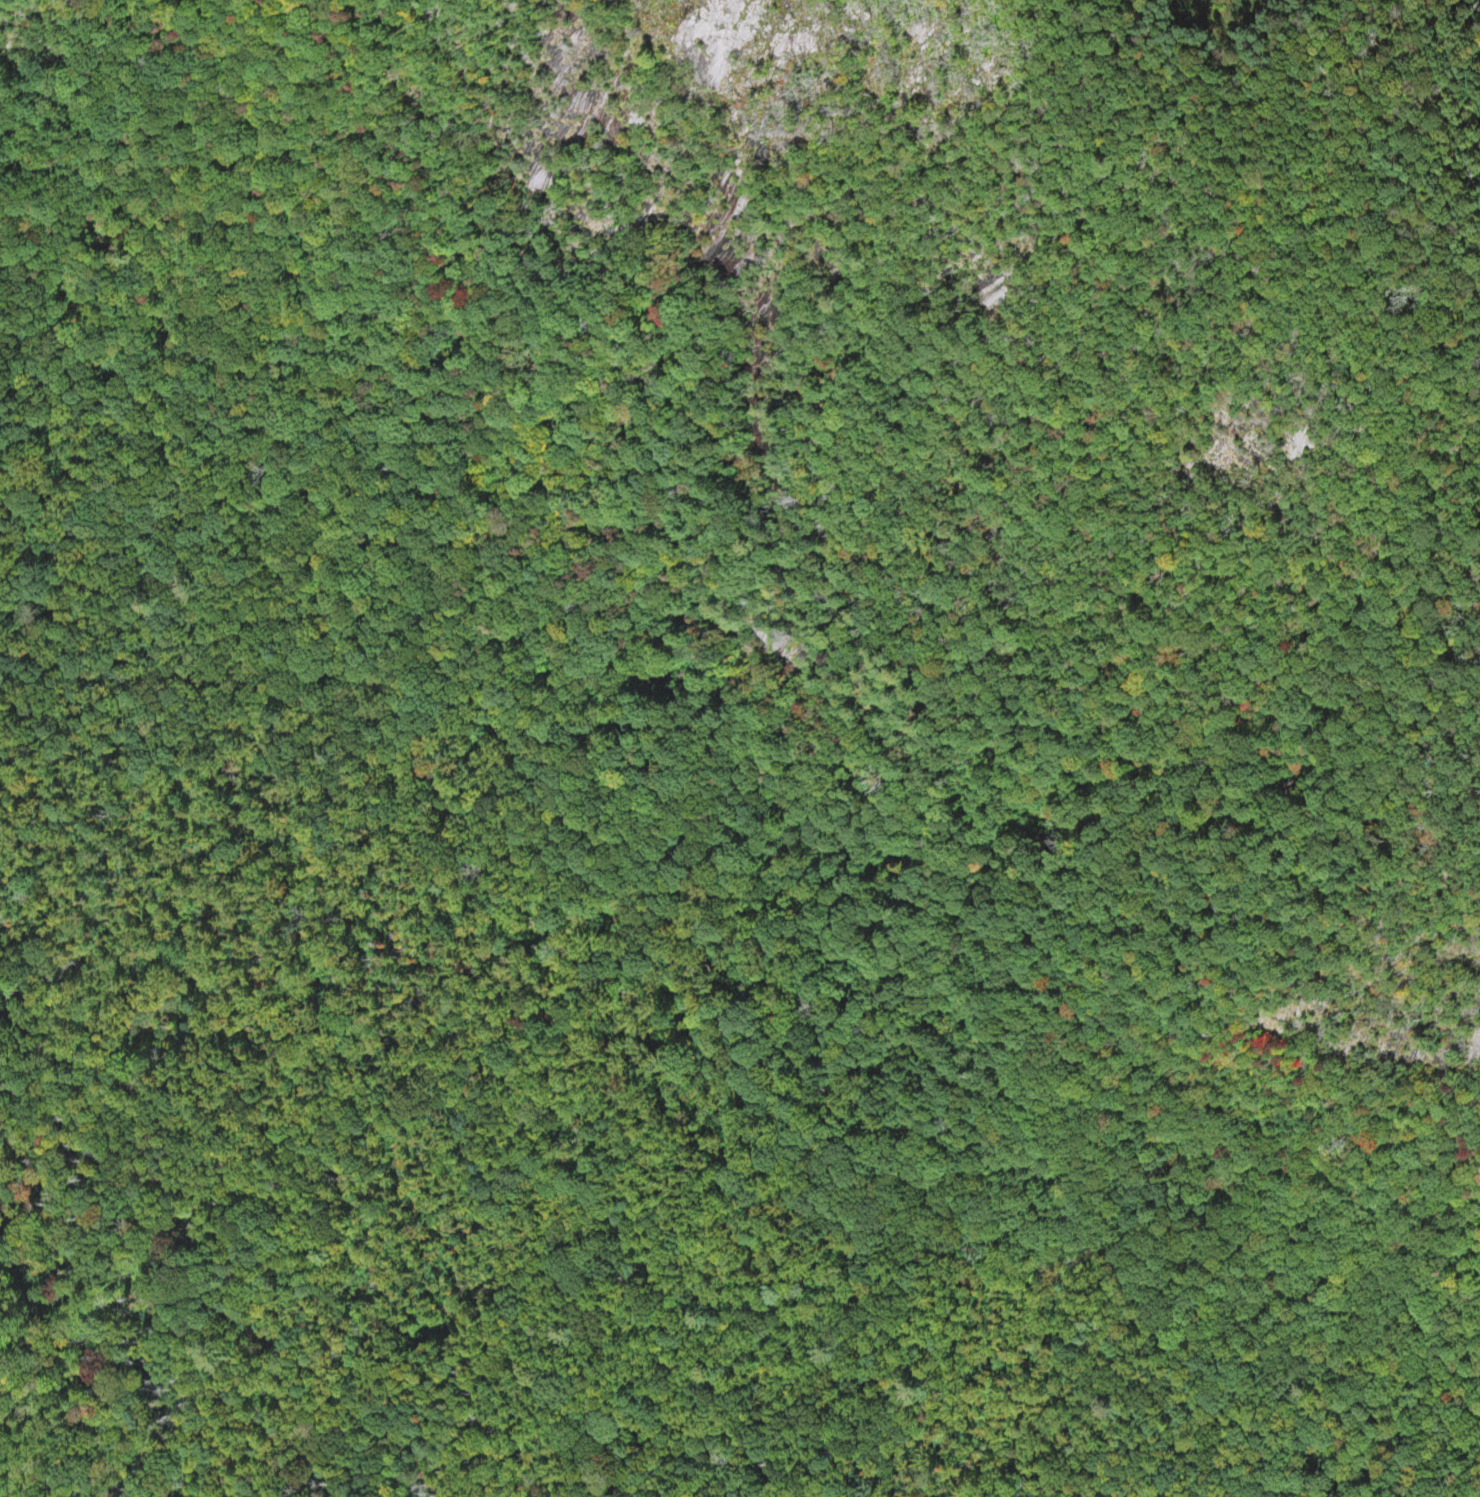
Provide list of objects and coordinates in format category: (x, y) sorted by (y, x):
road: (1288, 8)
road: (1403, 134)

